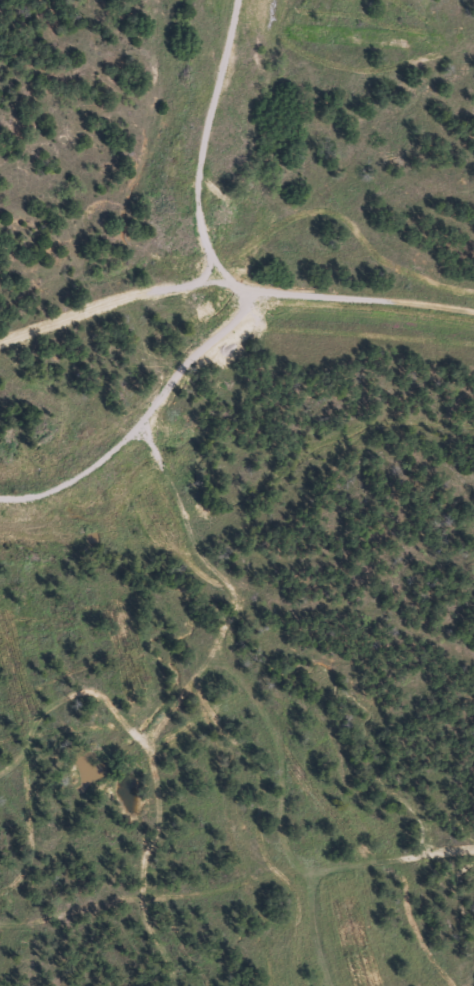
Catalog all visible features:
road: (250, 242)

